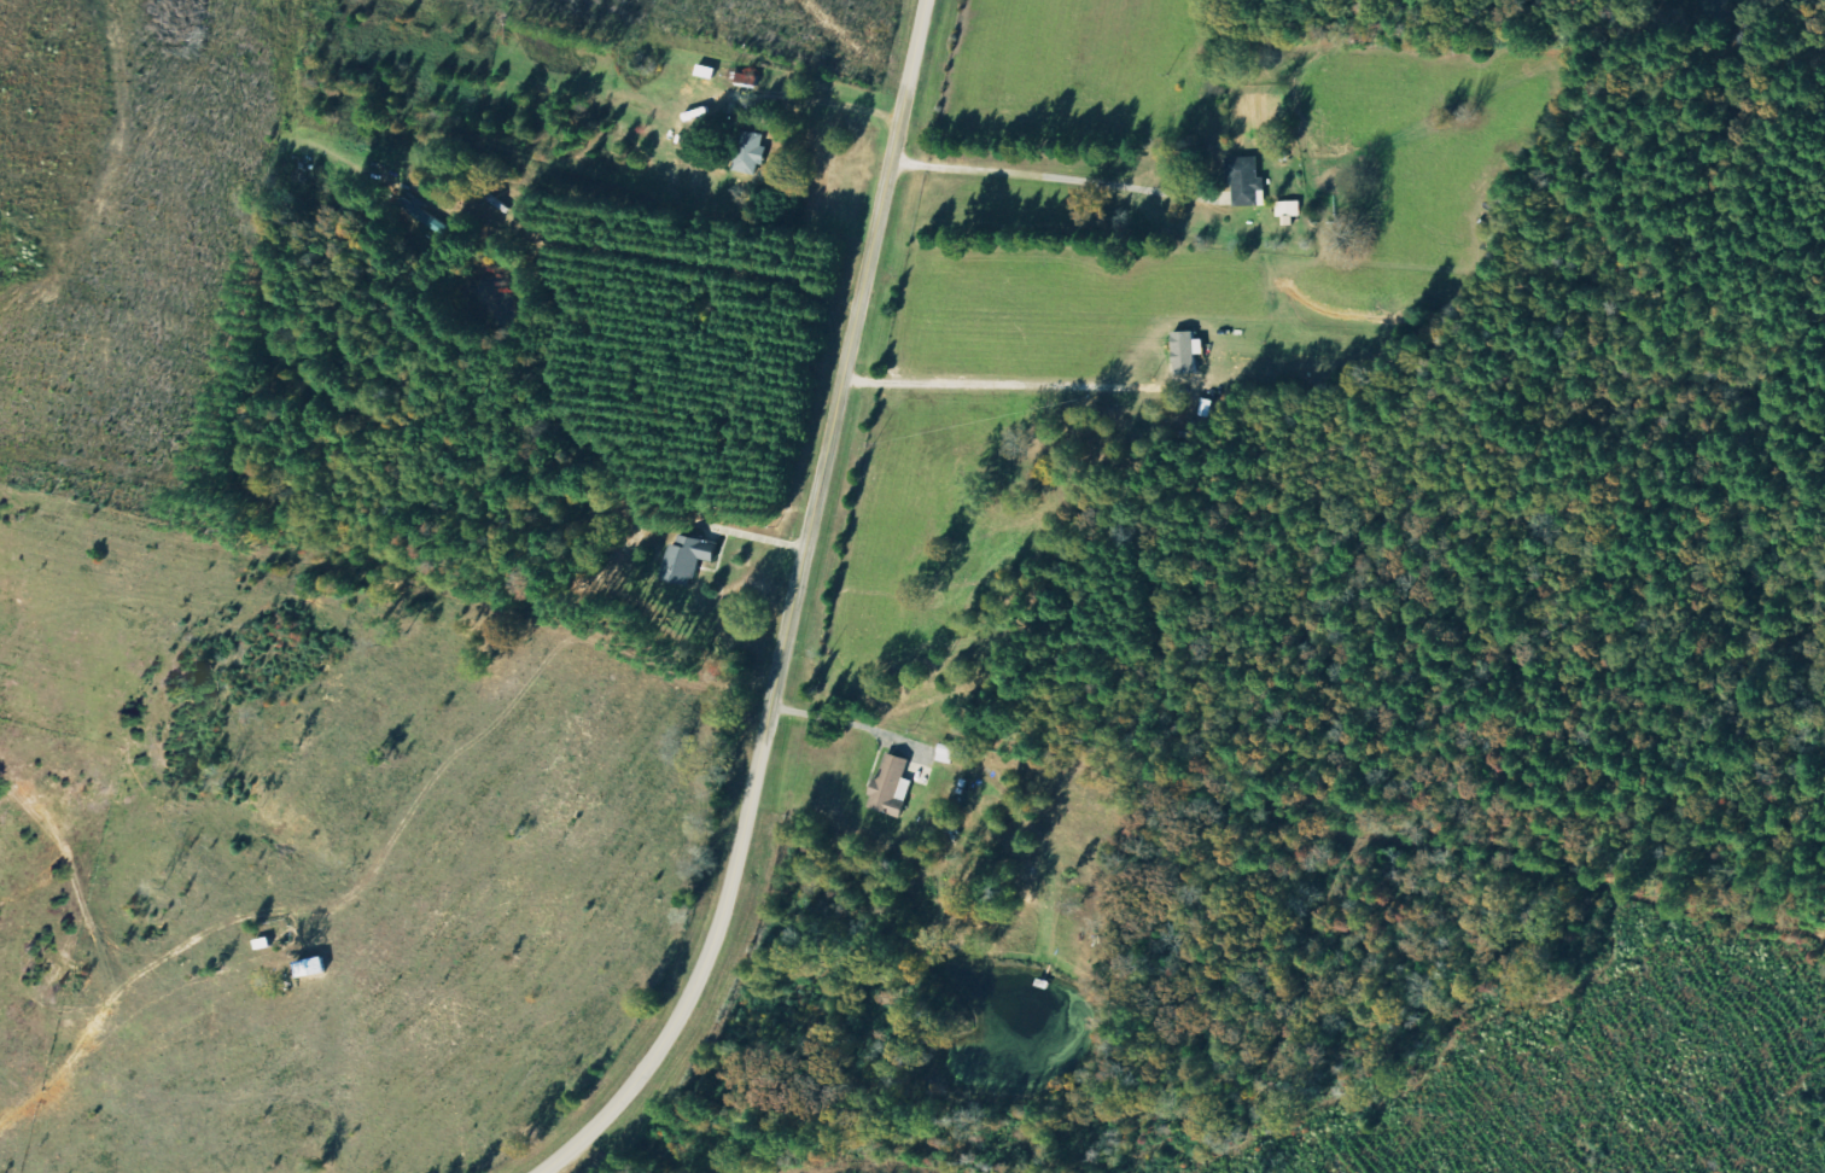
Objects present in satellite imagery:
building: (757, 152)
building: (1244, 180)
road: (1059, 182)
building: (1295, 209)
building: (424, 220)
building: (1196, 354)
building: (694, 559)
road: (788, 615)
building: (900, 787)
building: (321, 969)

